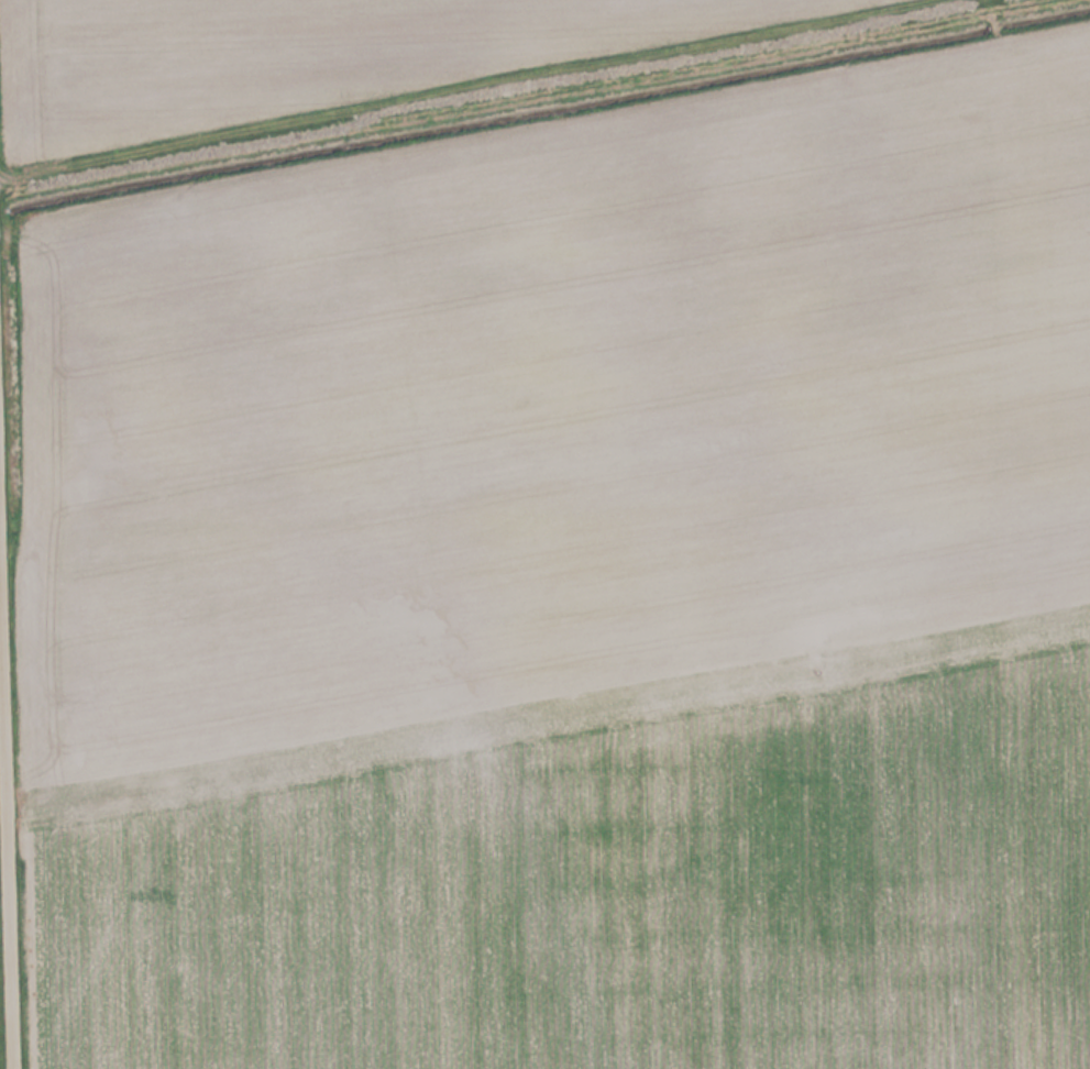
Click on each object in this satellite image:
road: (2, 958)

